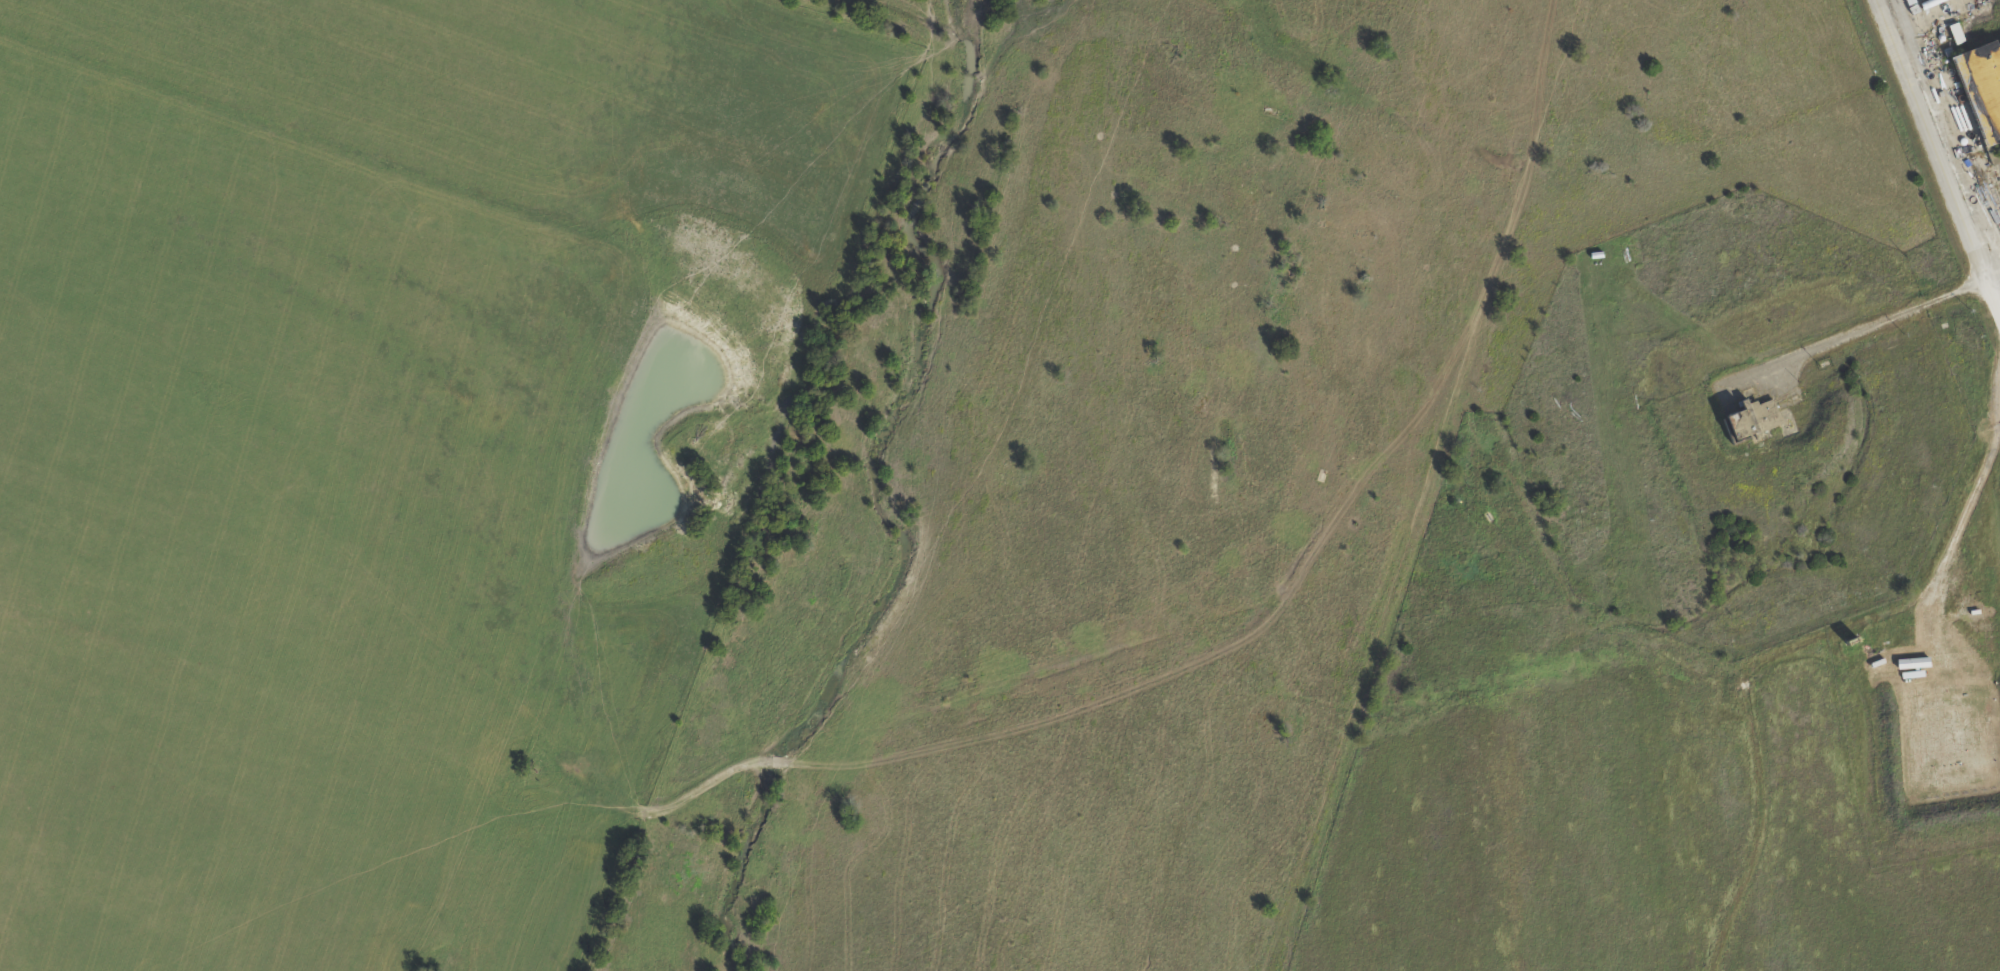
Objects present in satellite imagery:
building: (1955, 33)
building: (1981, 90)
road: (1941, 150)
road: (1995, 275)
road: (1854, 331)
building: (1749, 419)
road: (1807, 645)

